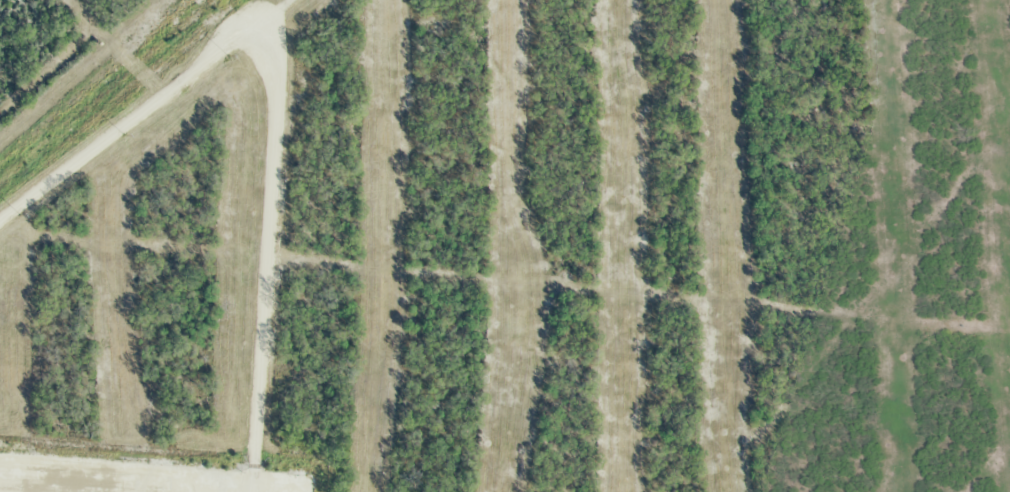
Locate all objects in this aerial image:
road: (140, 111)

